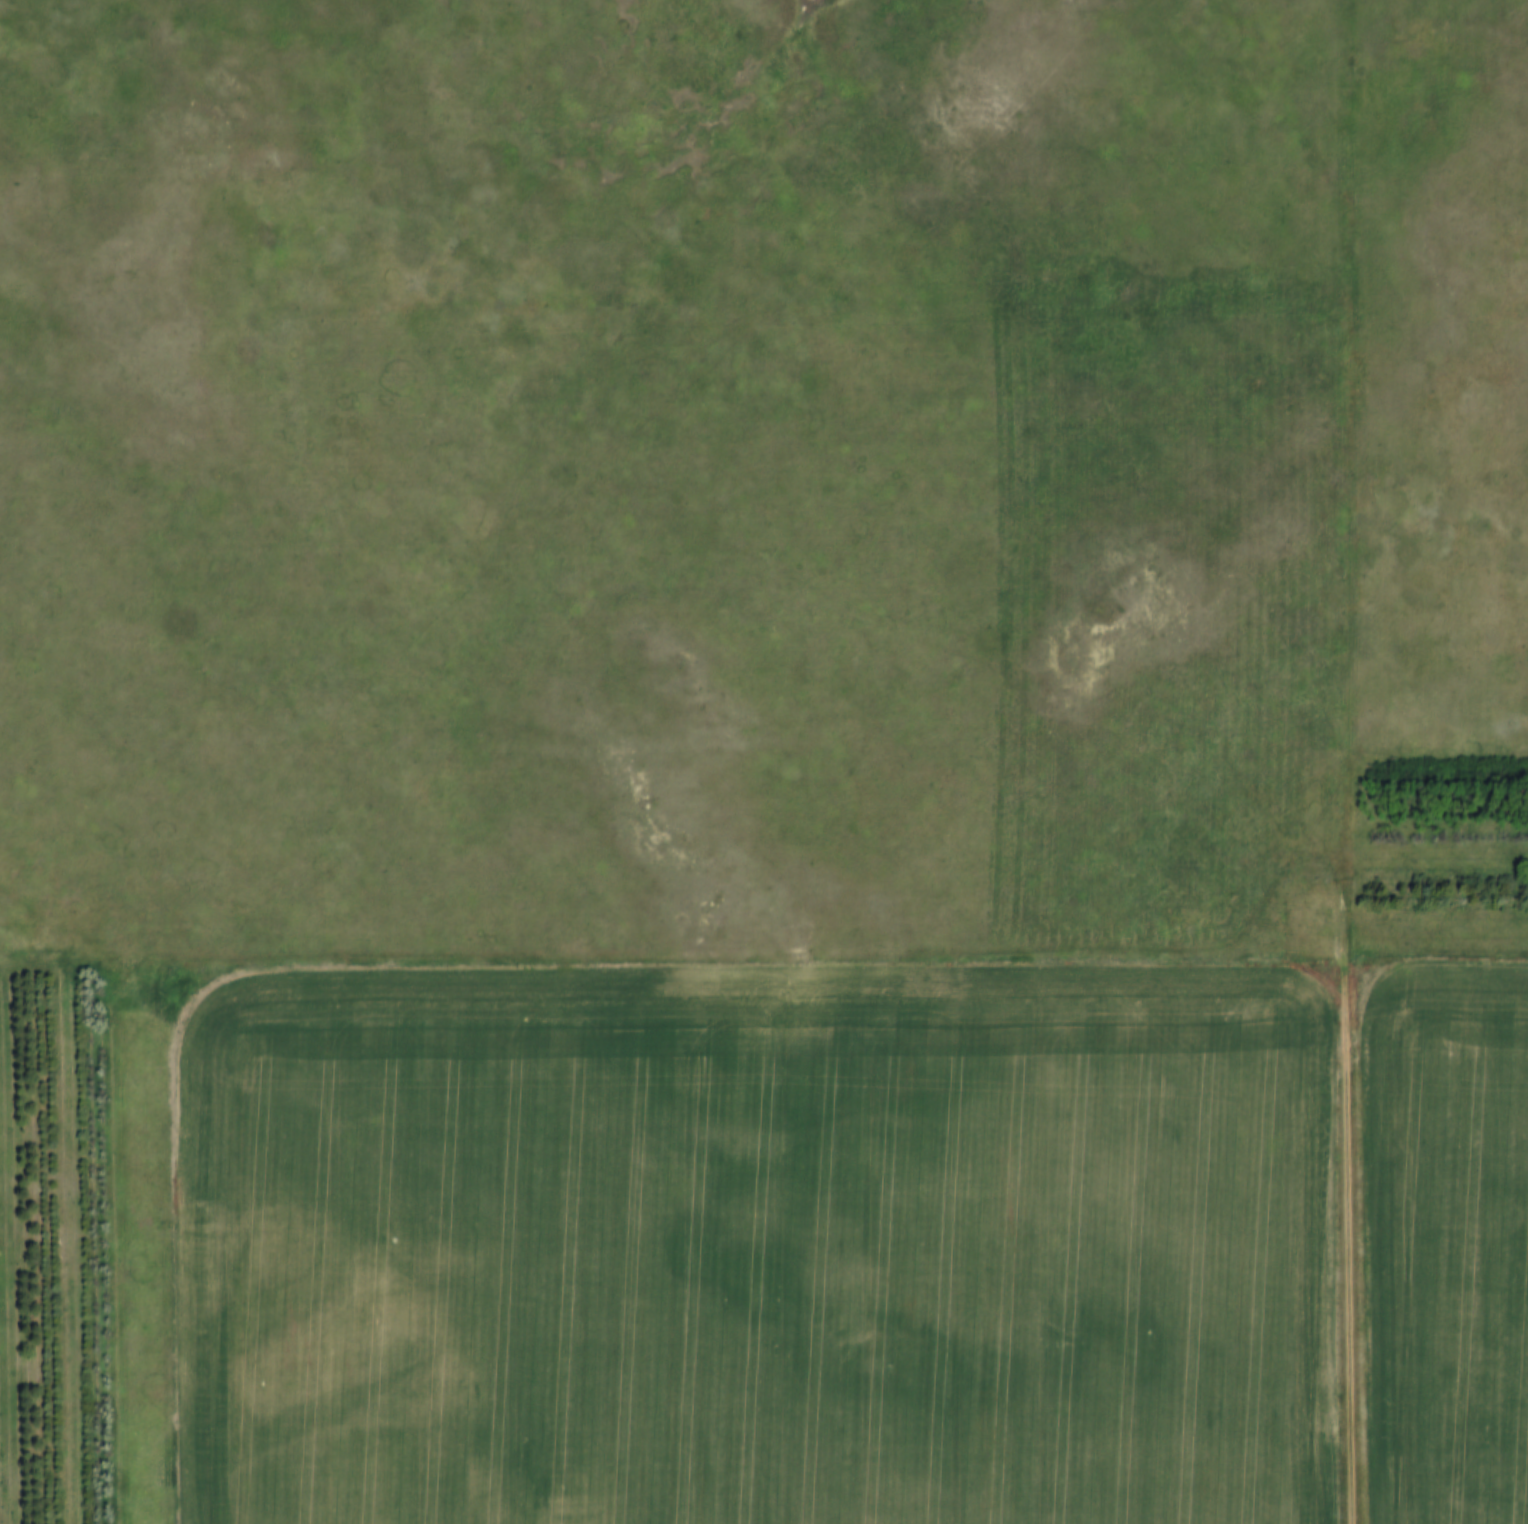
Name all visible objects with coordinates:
road: (1352, 1264)

